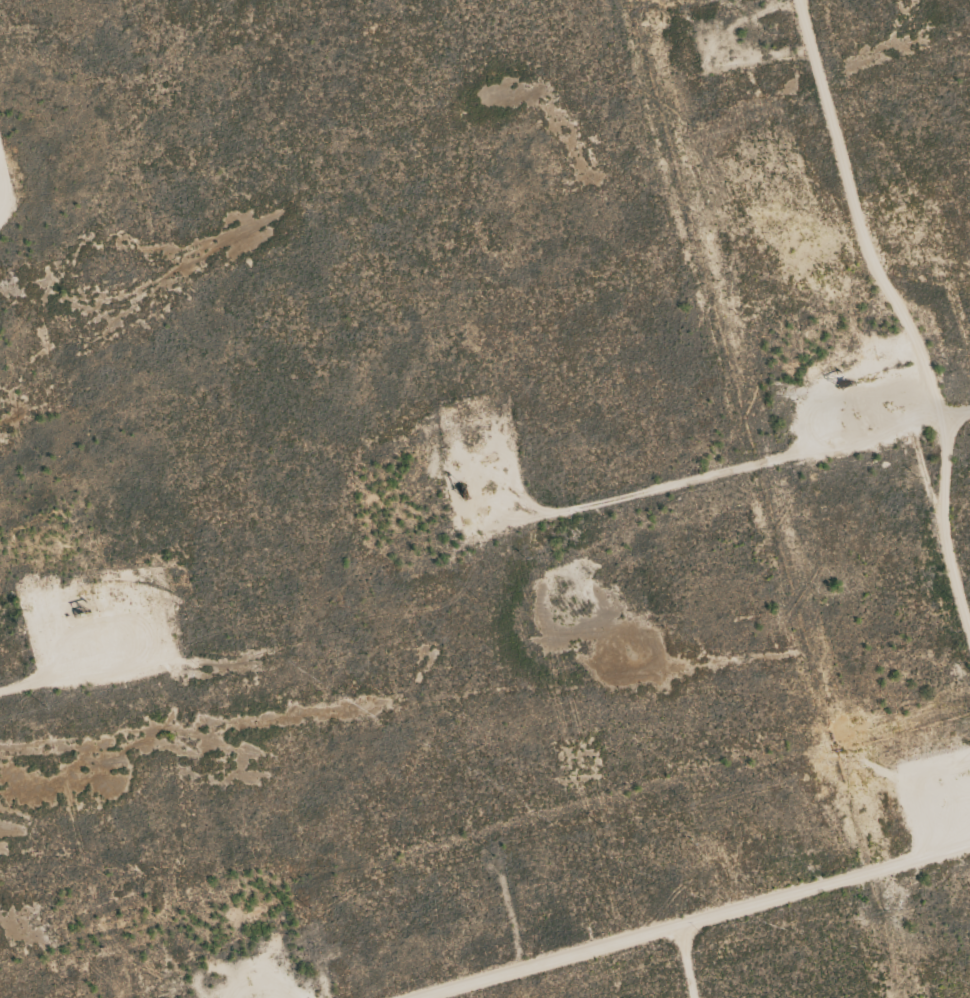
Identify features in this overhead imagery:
road: (908, 310)
road: (688, 918)

